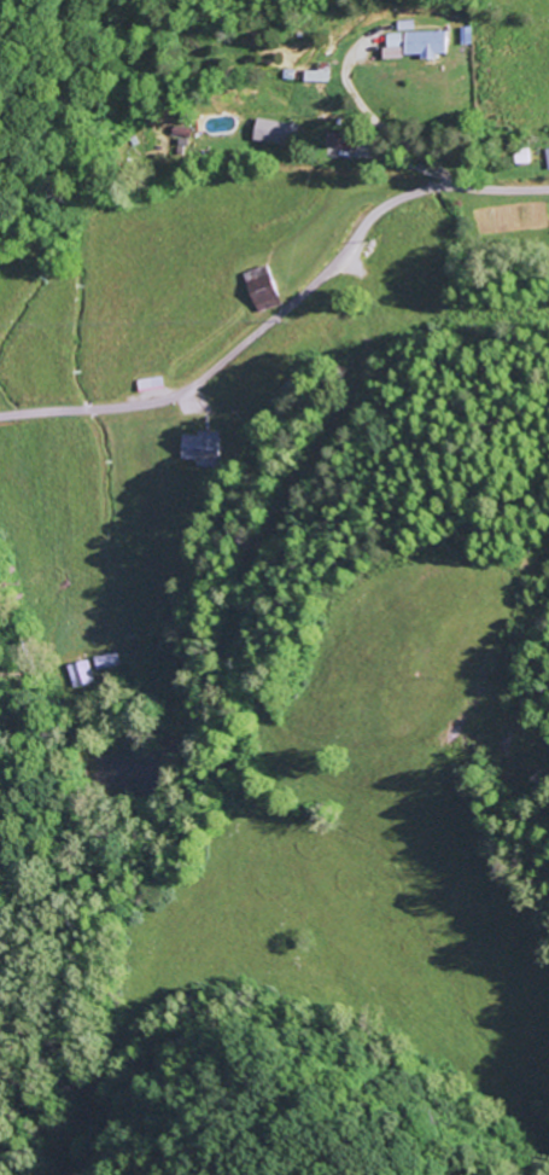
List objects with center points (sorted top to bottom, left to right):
building: (391, 40)
building: (424, 42)
building: (271, 132)
building: (547, 157)
building: (261, 292)
road: (281, 309)
building: (78, 673)

